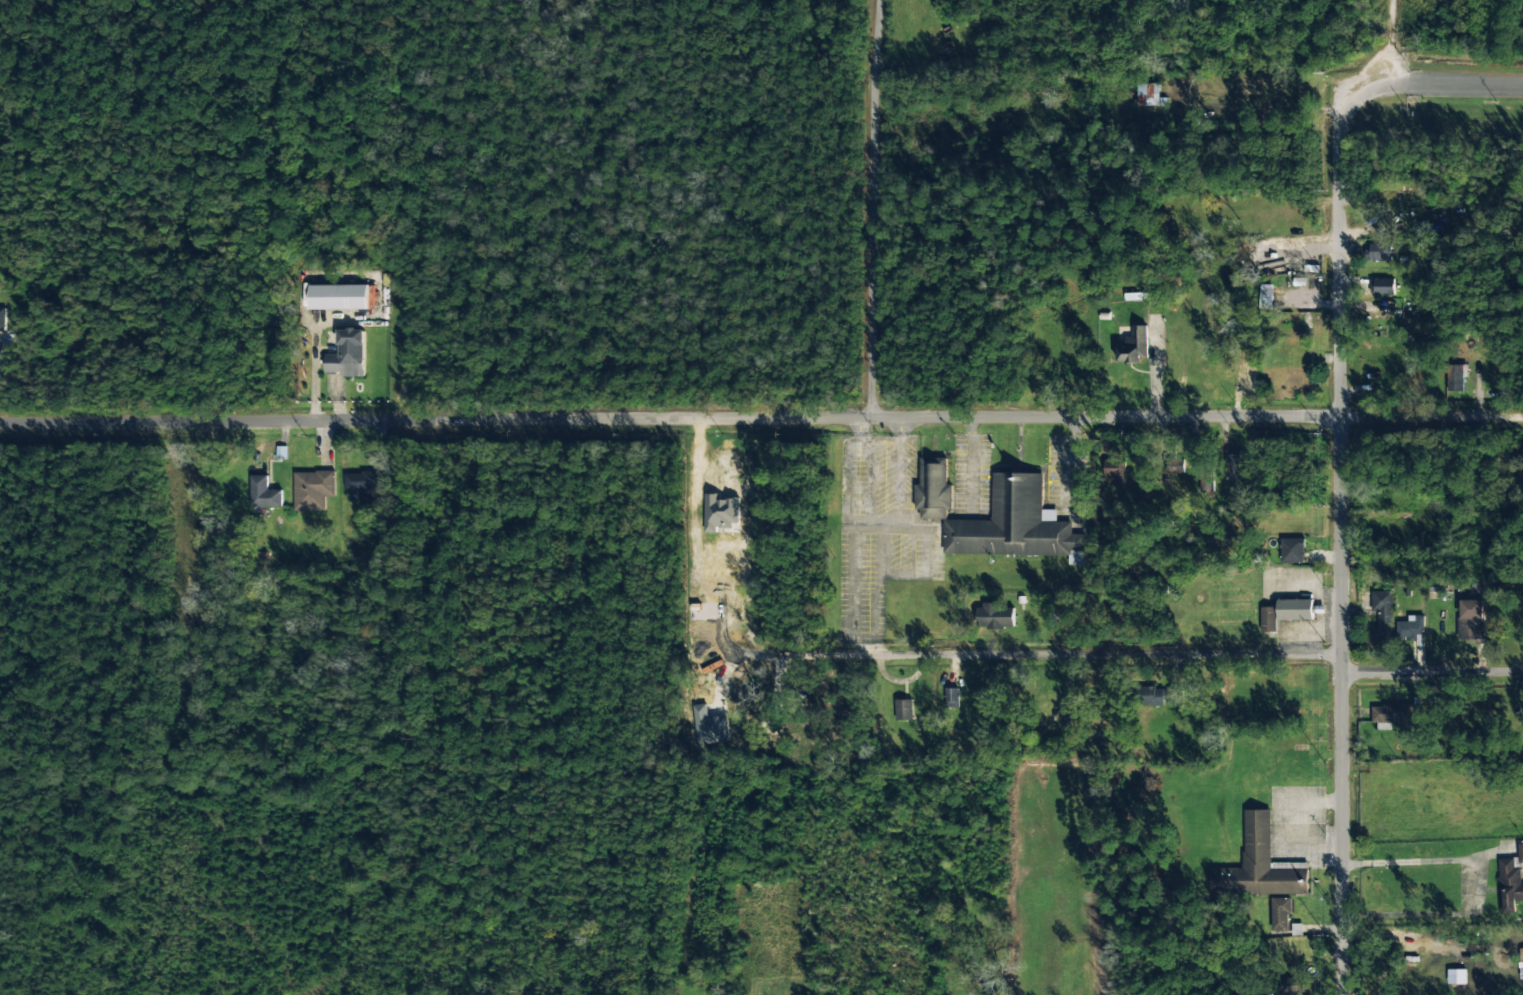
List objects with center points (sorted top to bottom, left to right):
road: (1480, 79)
building: (1148, 95)
road: (37, 171)
road: (860, 211)
building: (1375, 251)
building: (1382, 286)
building: (1265, 296)
building: (338, 297)
building: (2, 321)
building: (1133, 345)
building: (348, 354)
building: (1455, 377)
road: (761, 422)
building: (1232, 466)
building: (1114, 473)
building: (358, 481)
building: (933, 489)
building: (313, 490)
building: (263, 493)
road: (1341, 502)
building: (1014, 523)
building: (1292, 550)
building: (1294, 609)
building: (1382, 615)
building: (996, 616)
building: (1268, 619)
building: (1470, 619)
building: (1411, 628)
road: (1062, 659)
road: (1432, 675)
building: (1159, 697)
building: (952, 698)
building: (903, 710)
building: (1395, 714)
building: (705, 729)
building: (1520, 853)
building: (1260, 865)
building: (1508, 885)
building: (1279, 915)
building: (1521, 964)
building: (1290, 985)

